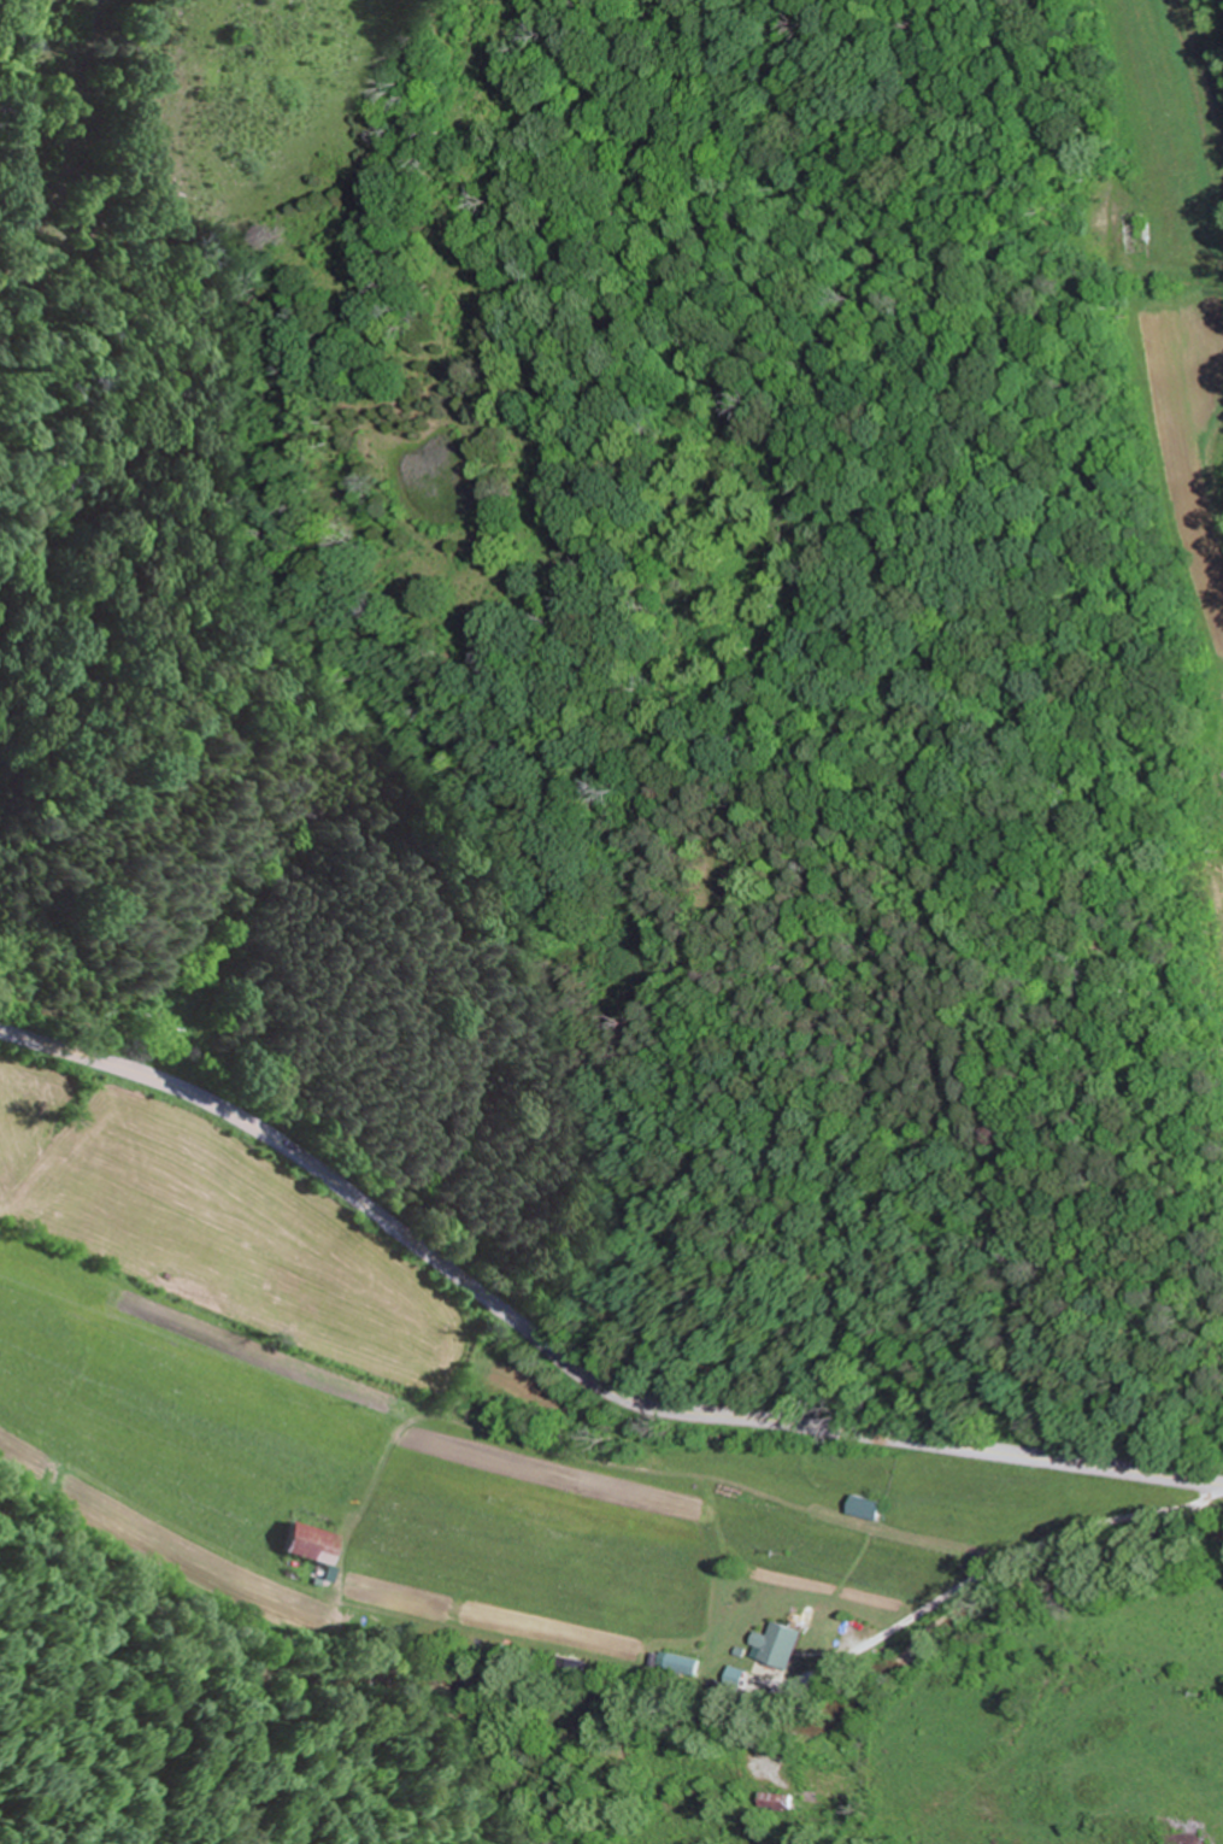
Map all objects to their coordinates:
building: (1140, 231)
road: (570, 1364)
building: (872, 1507)
building: (312, 1543)
road: (1009, 1558)
building: (783, 1644)
building: (680, 1663)
building: (741, 1679)
building: (830, 1783)
building: (1182, 1831)

